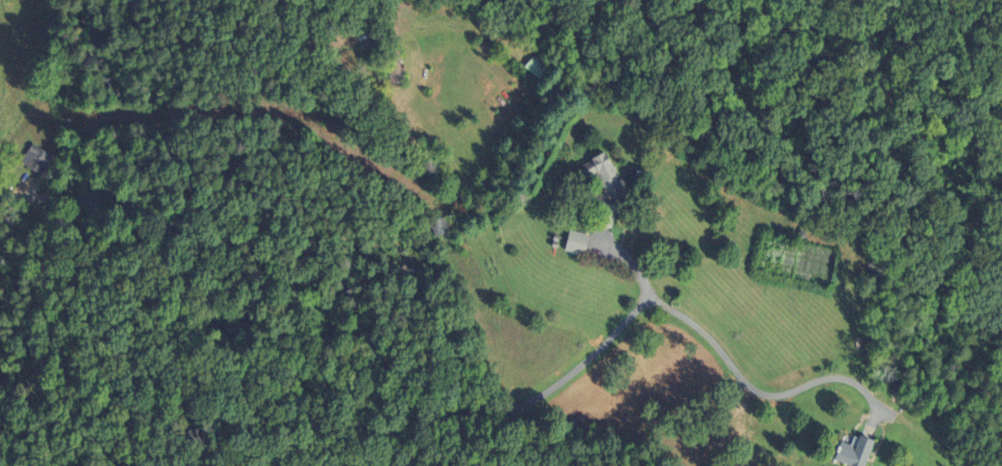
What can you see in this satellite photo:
building: (535, 67)
building: (609, 174)
building: (582, 243)
road: (337, 335)
road: (756, 391)
building: (863, 453)

